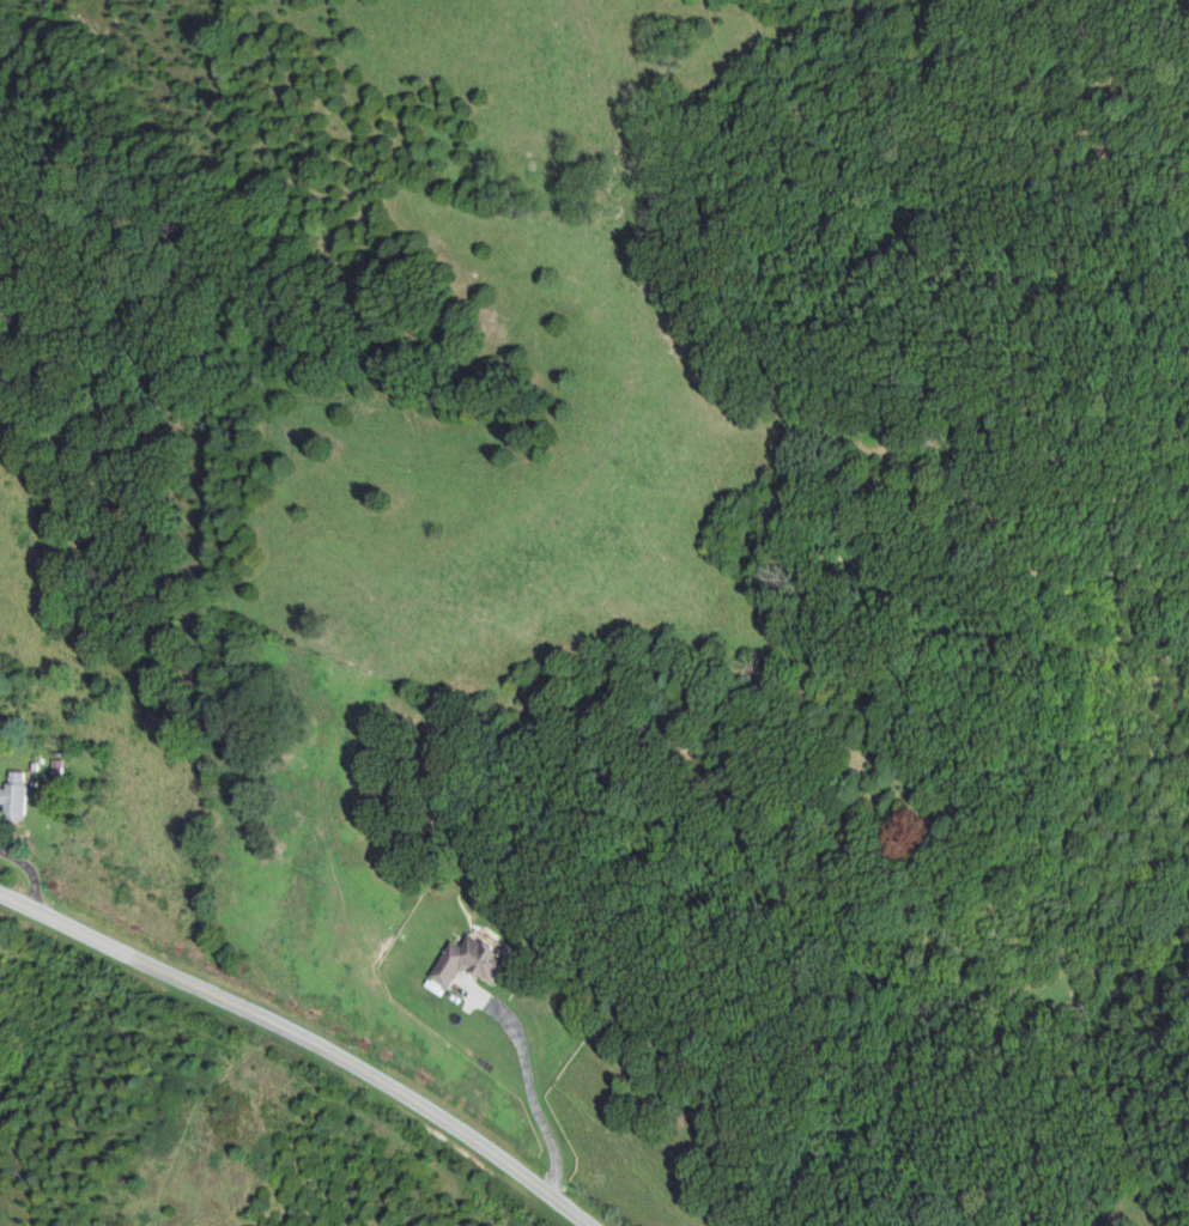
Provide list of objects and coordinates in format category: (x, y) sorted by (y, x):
building: (14, 795)
road: (26, 879)
building: (469, 963)
road: (302, 1043)
road: (527, 1081)

